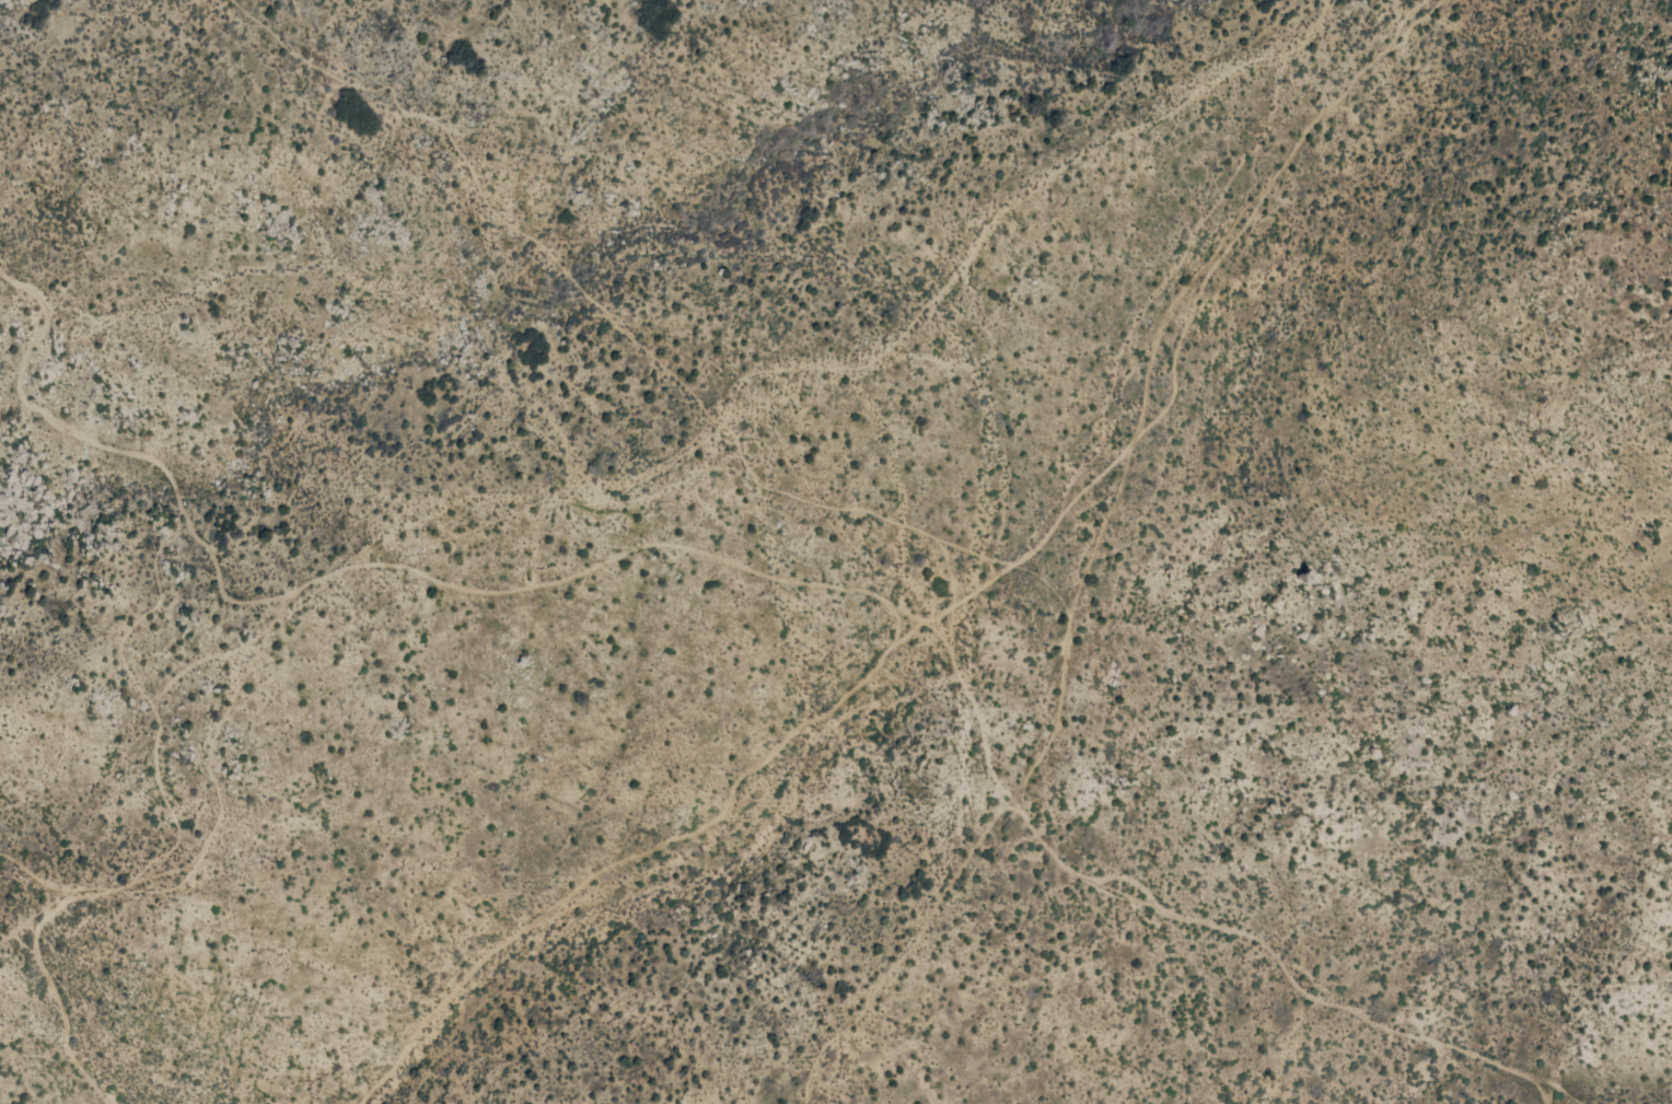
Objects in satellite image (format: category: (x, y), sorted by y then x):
road: (953, 601)
road: (270, 640)
road: (53, 881)

